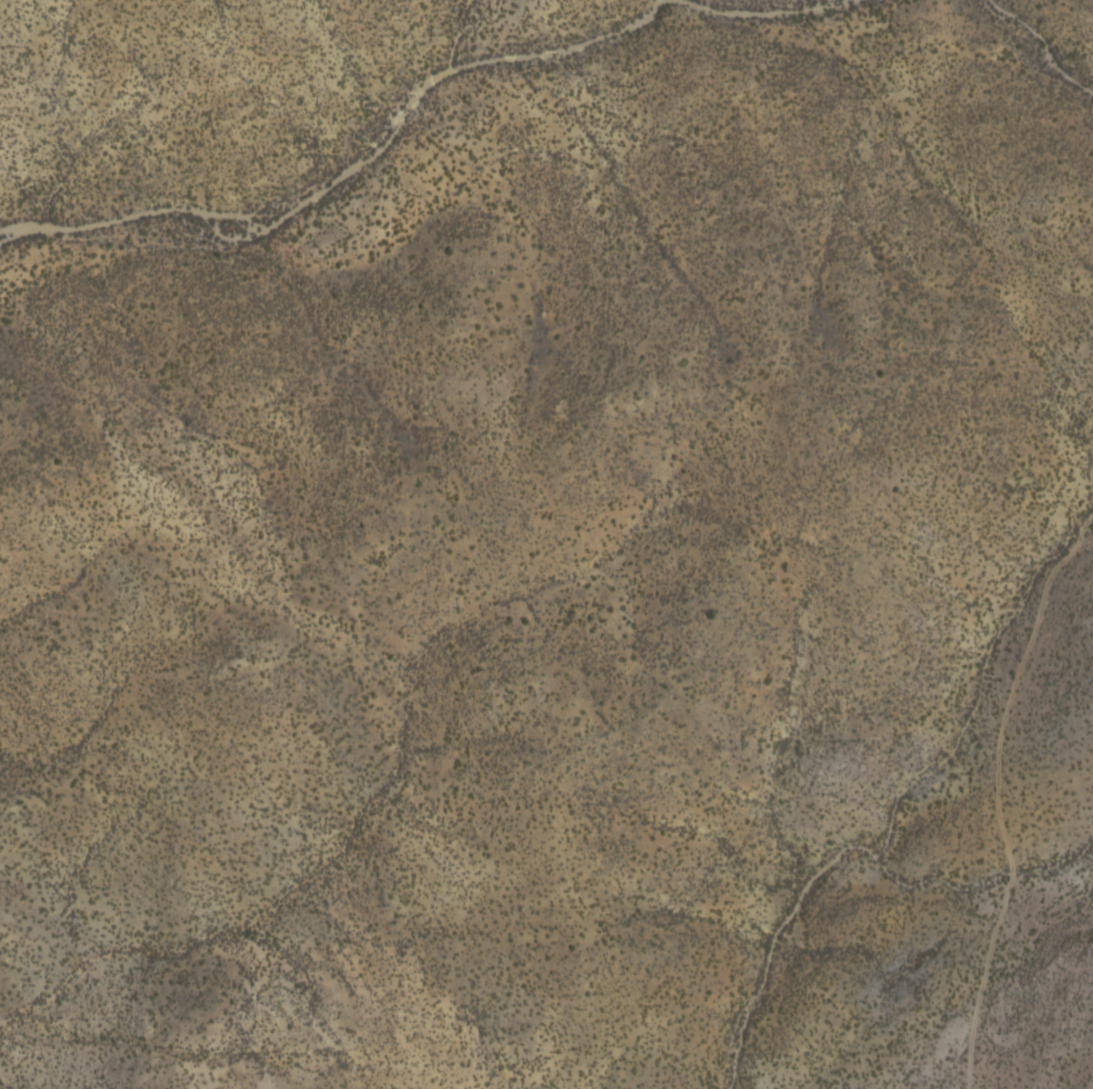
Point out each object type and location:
road: (1001, 799)

